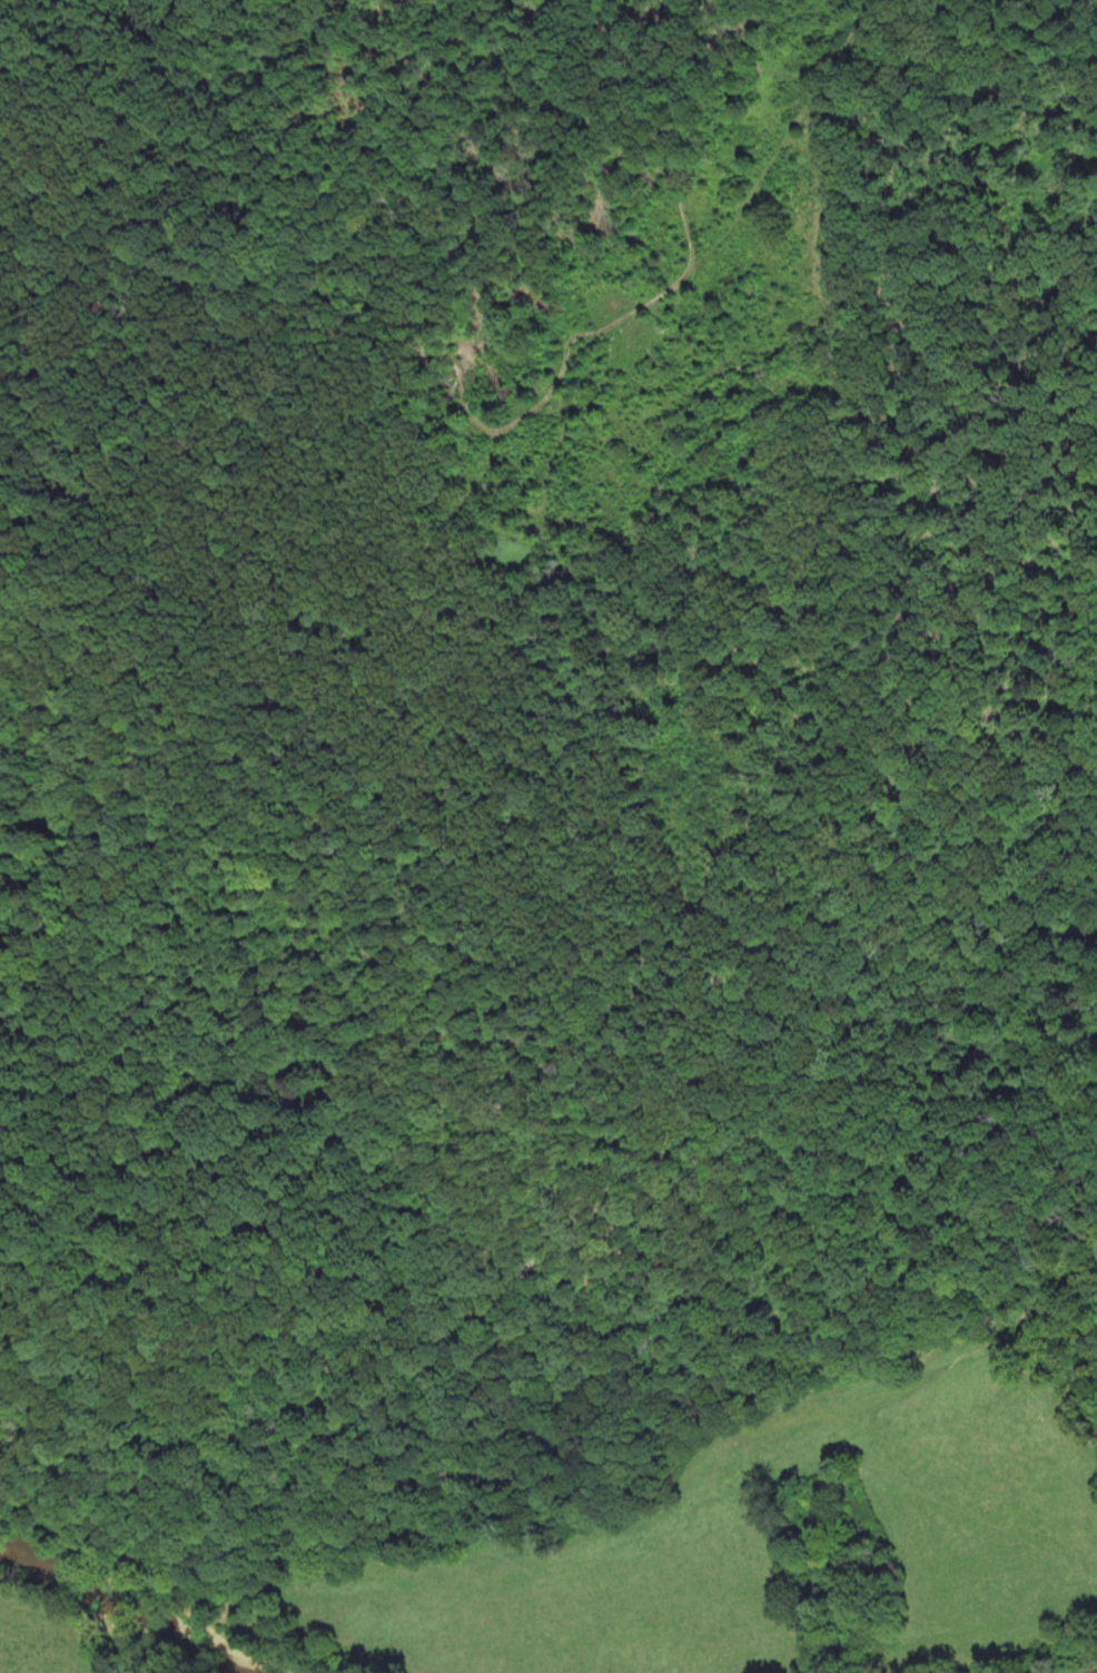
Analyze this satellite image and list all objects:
park: (830, 1547)

